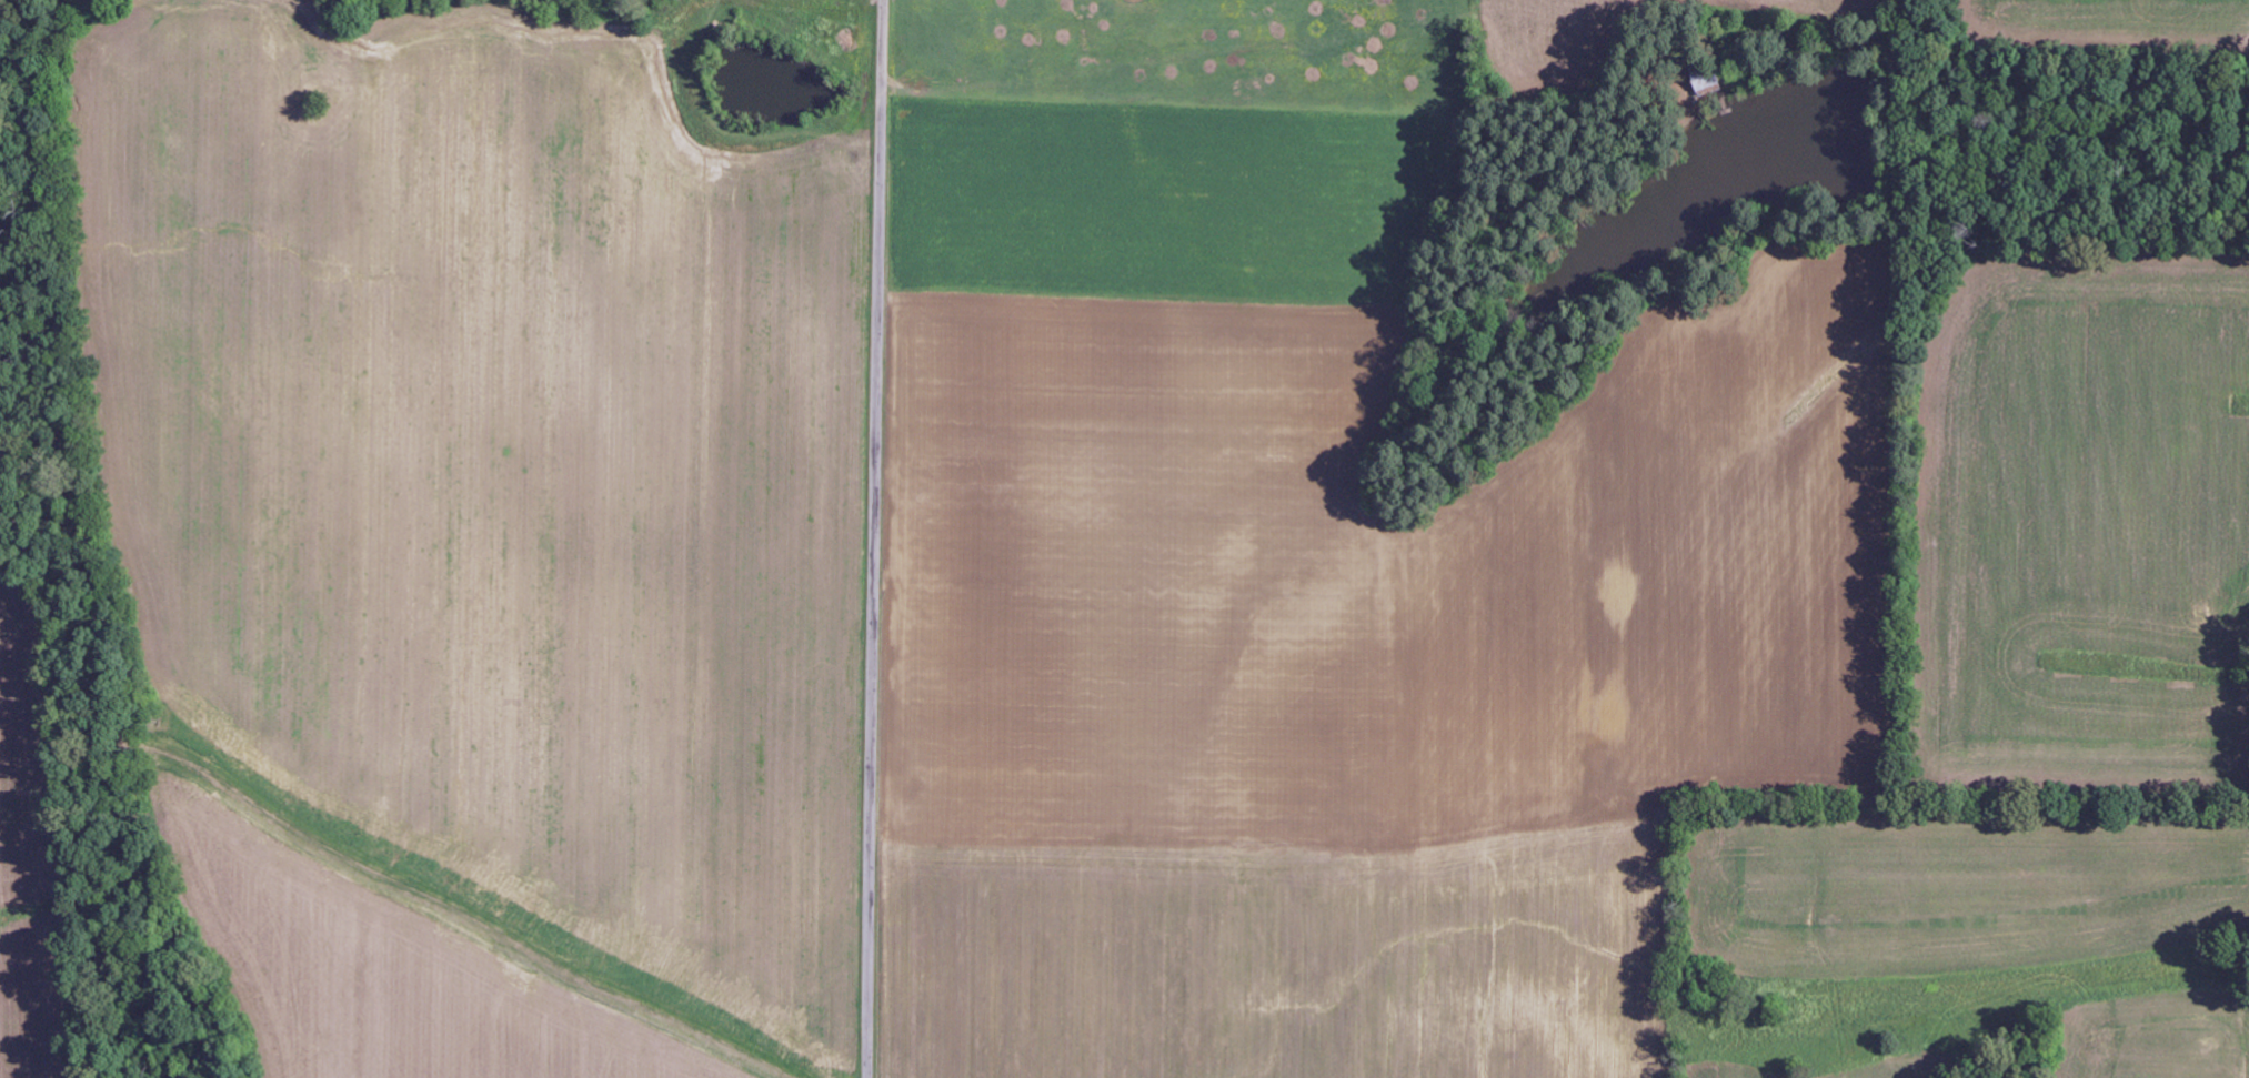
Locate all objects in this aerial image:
building: (1707, 82)
road: (874, 538)

